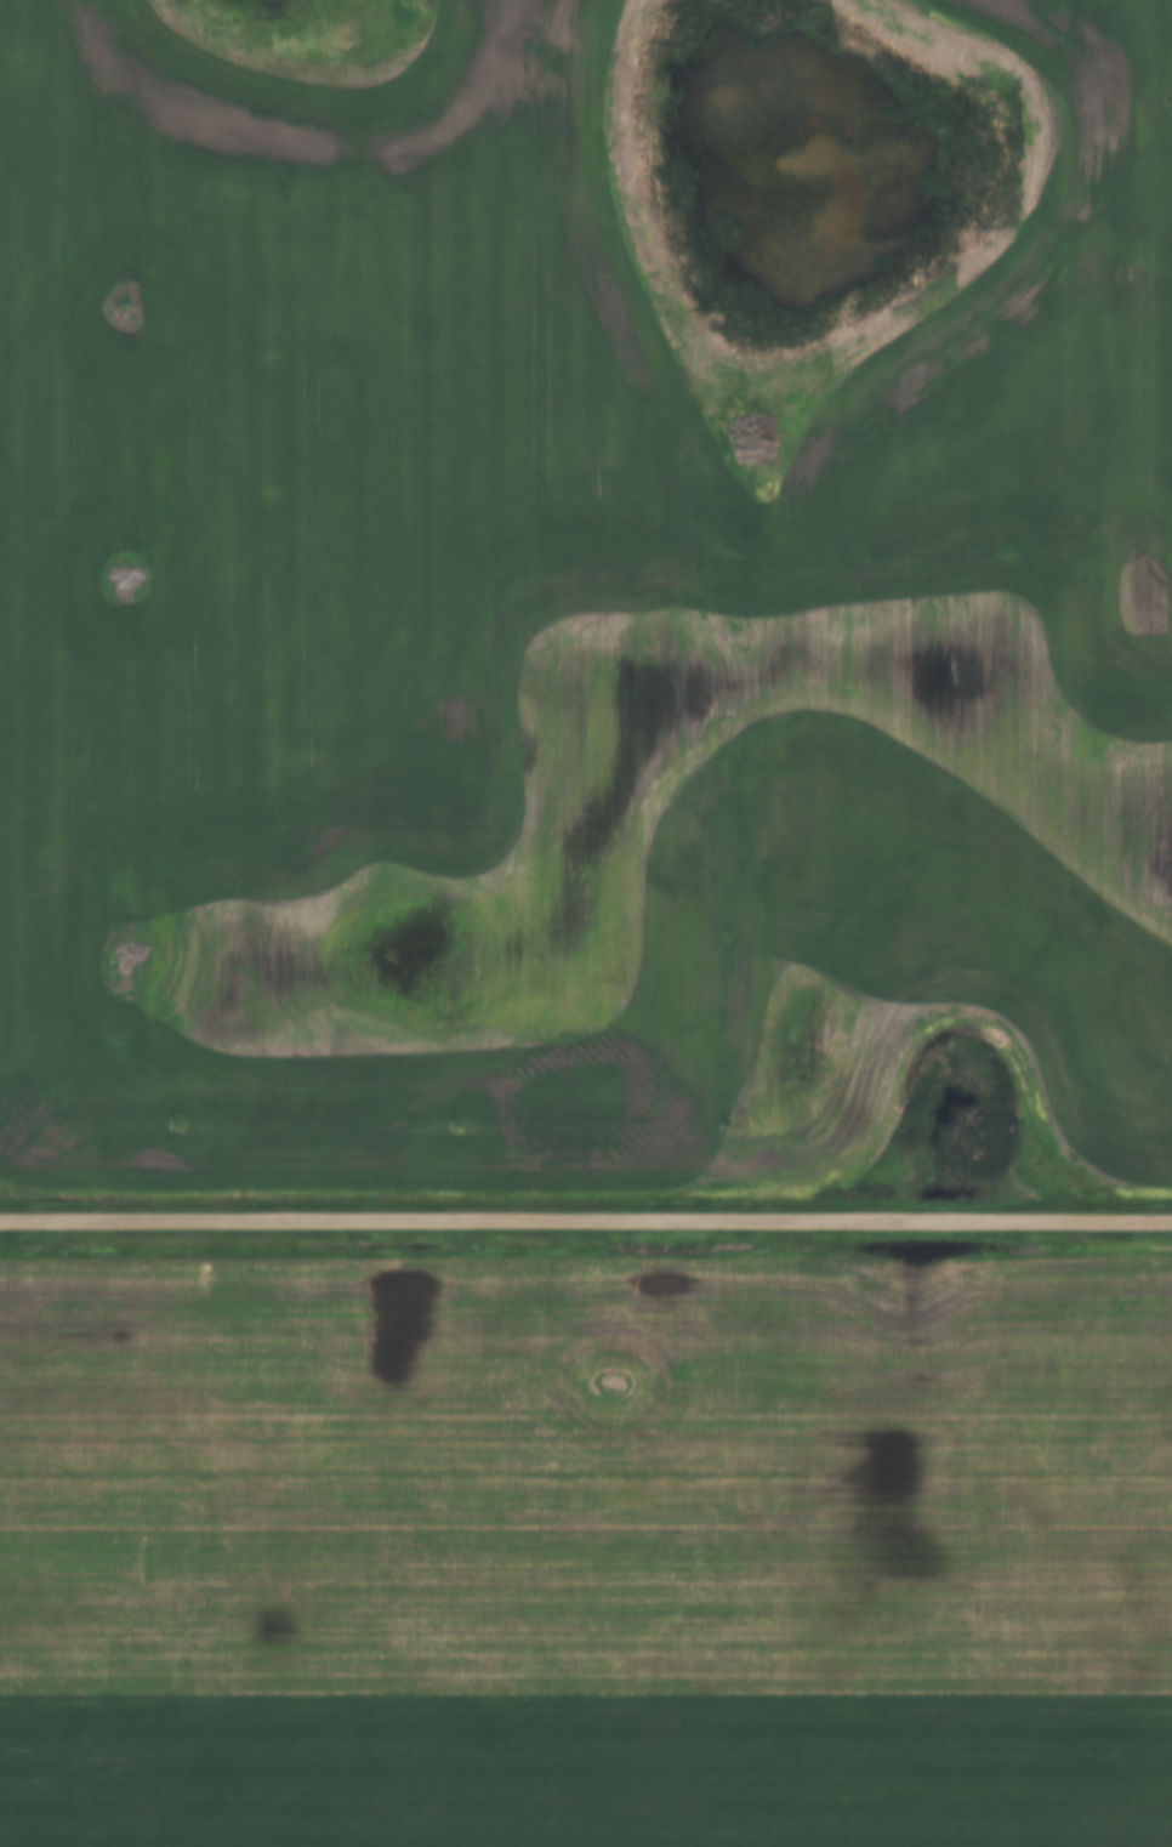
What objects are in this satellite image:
road: (586, 1216)

